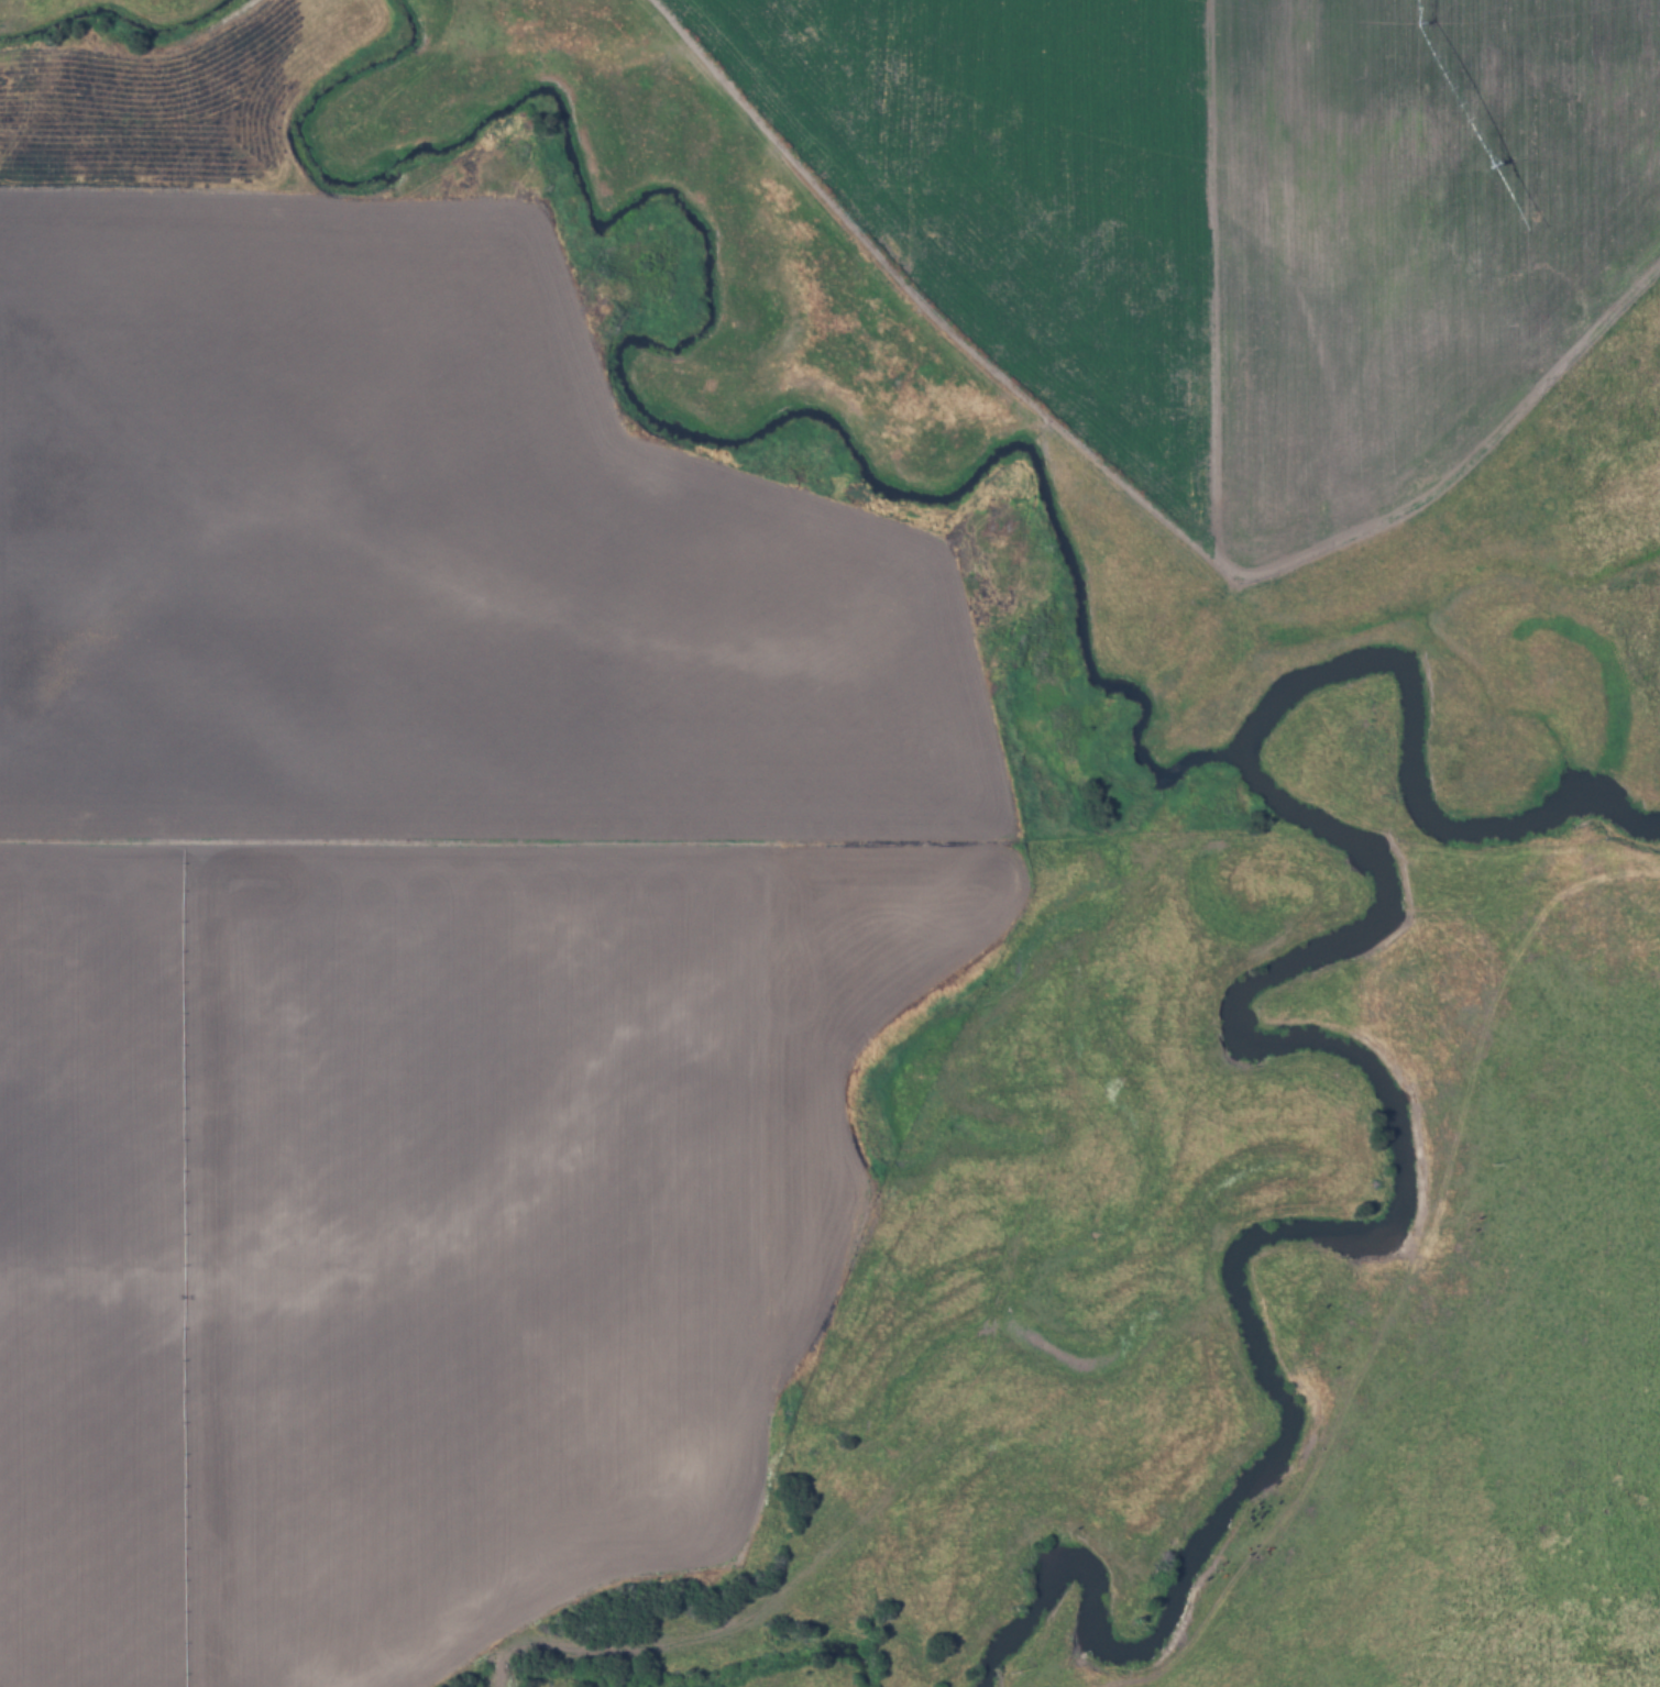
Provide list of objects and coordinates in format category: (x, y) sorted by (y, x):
road: (1135, 1679)

